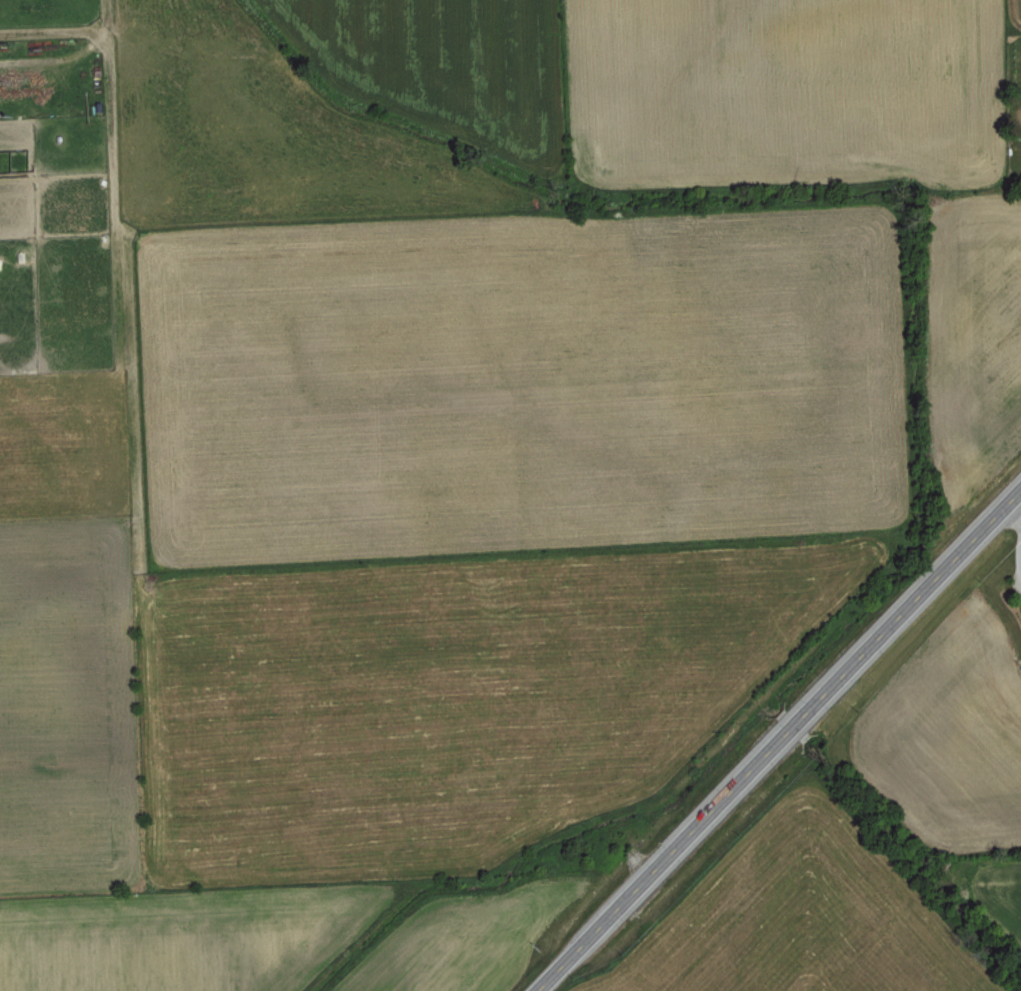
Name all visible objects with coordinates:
road: (782, 743)

